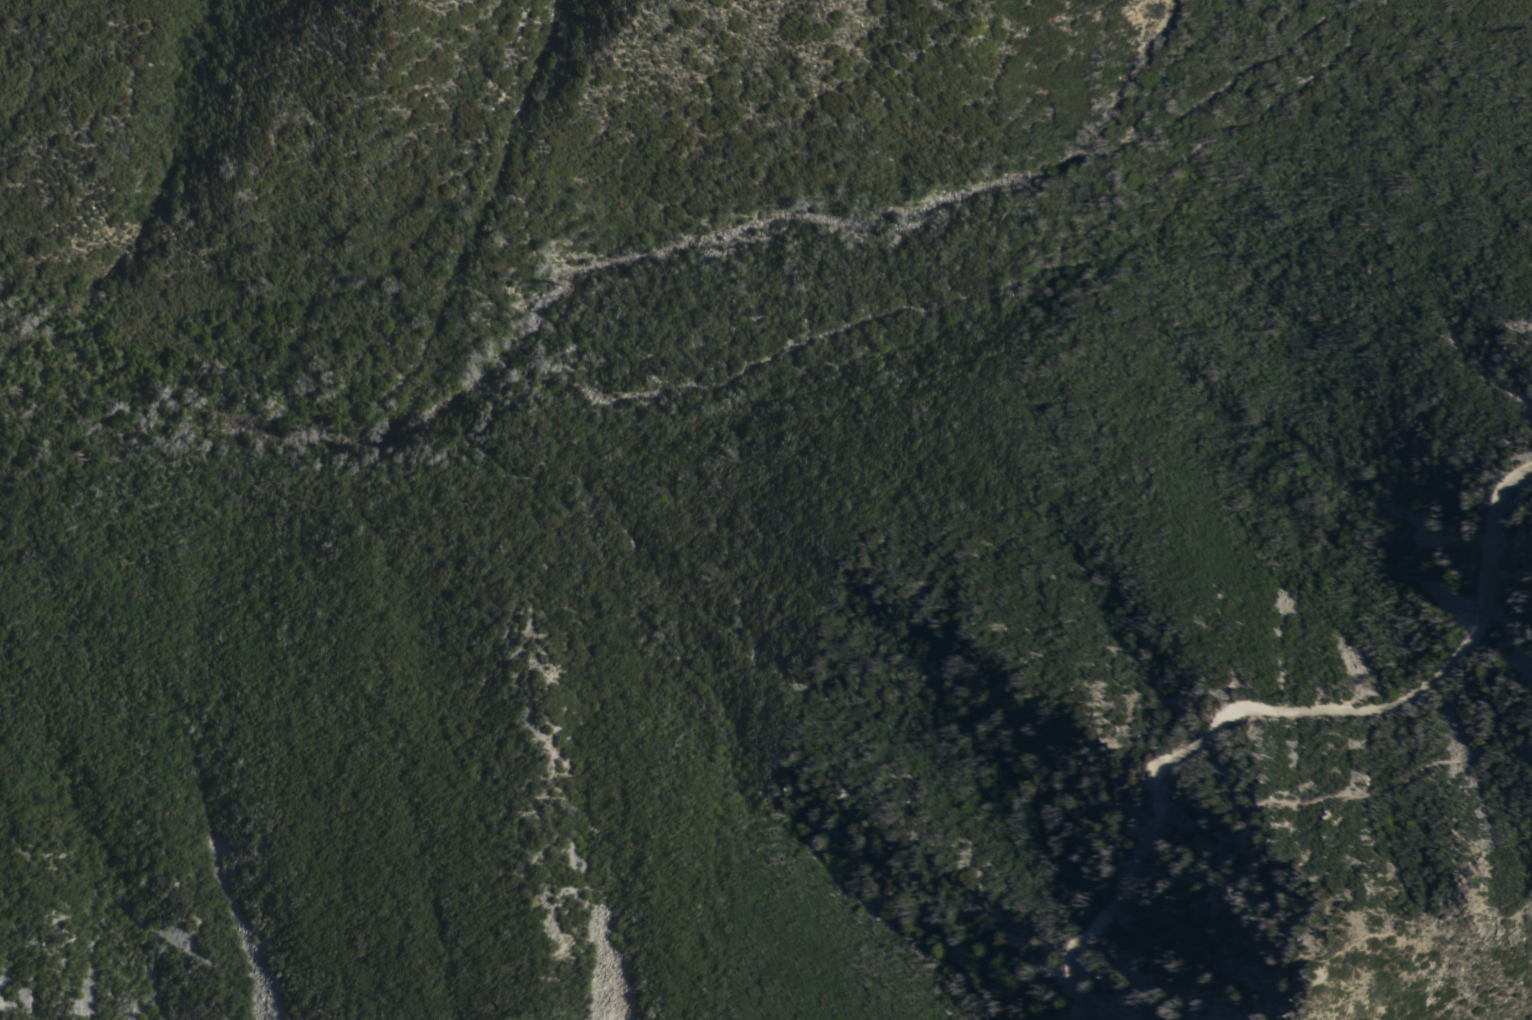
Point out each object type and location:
road: (1277, 711)
road: (1302, 795)
road: (1401, 936)

